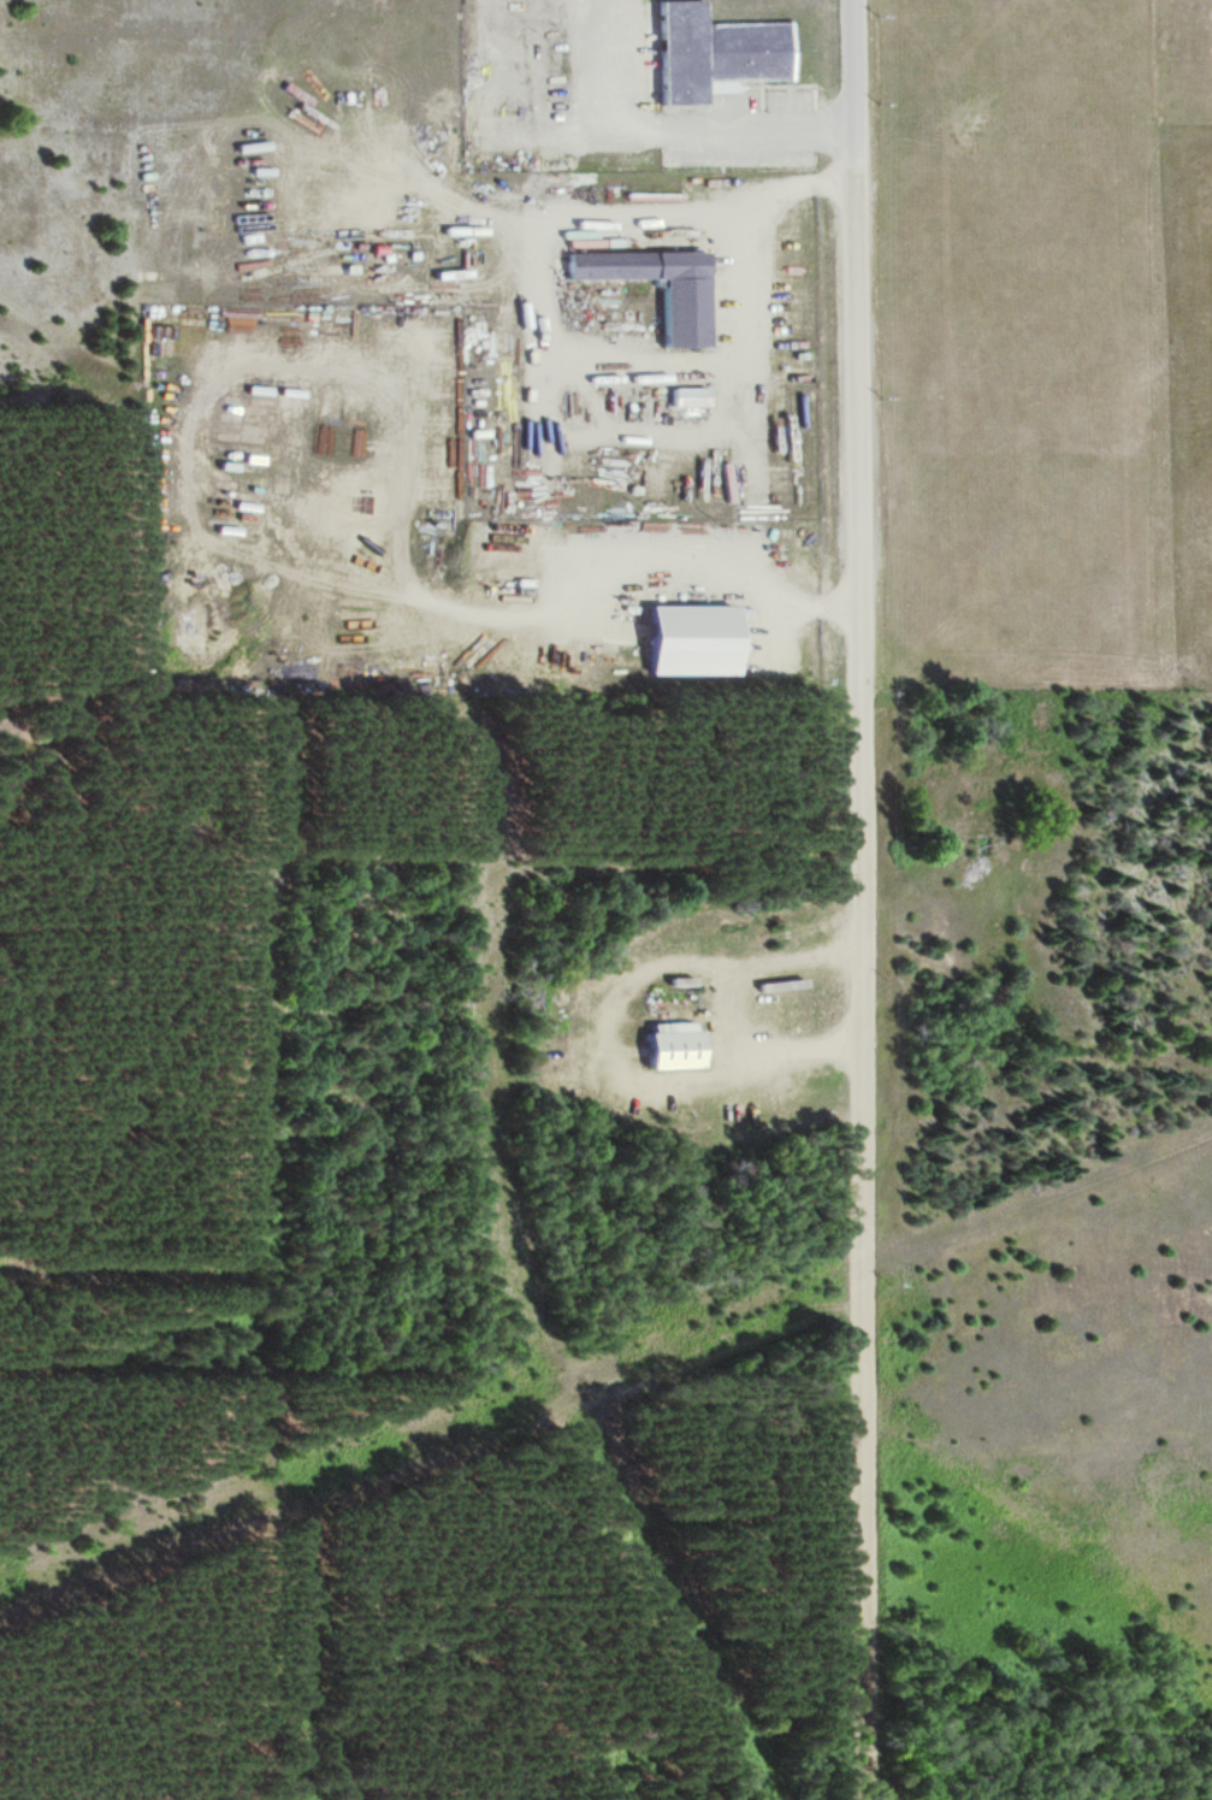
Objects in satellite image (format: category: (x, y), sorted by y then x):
building: (714, 53)
building: (685, 314)
building: (688, 397)
building: (688, 641)
road: (859, 899)
building: (668, 1047)

